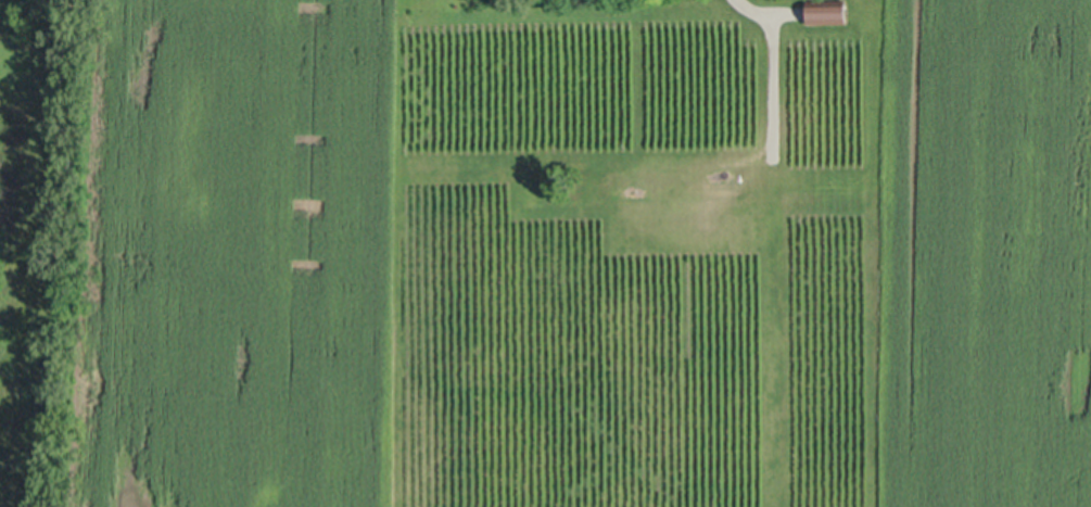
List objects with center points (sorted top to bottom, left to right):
building: (827, 10)
road: (763, 11)

